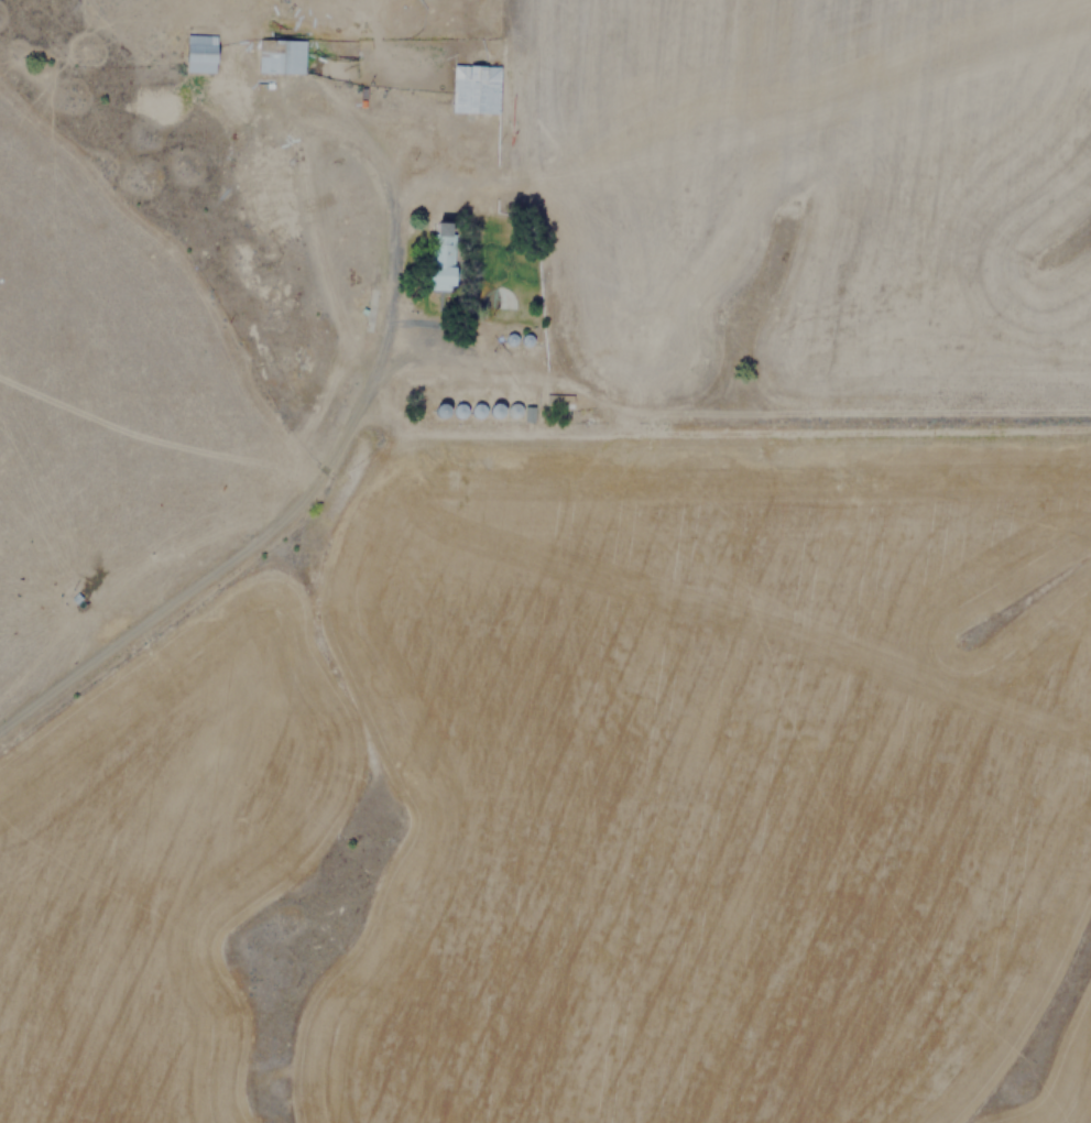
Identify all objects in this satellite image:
building: (440, 258)
road: (239, 557)

